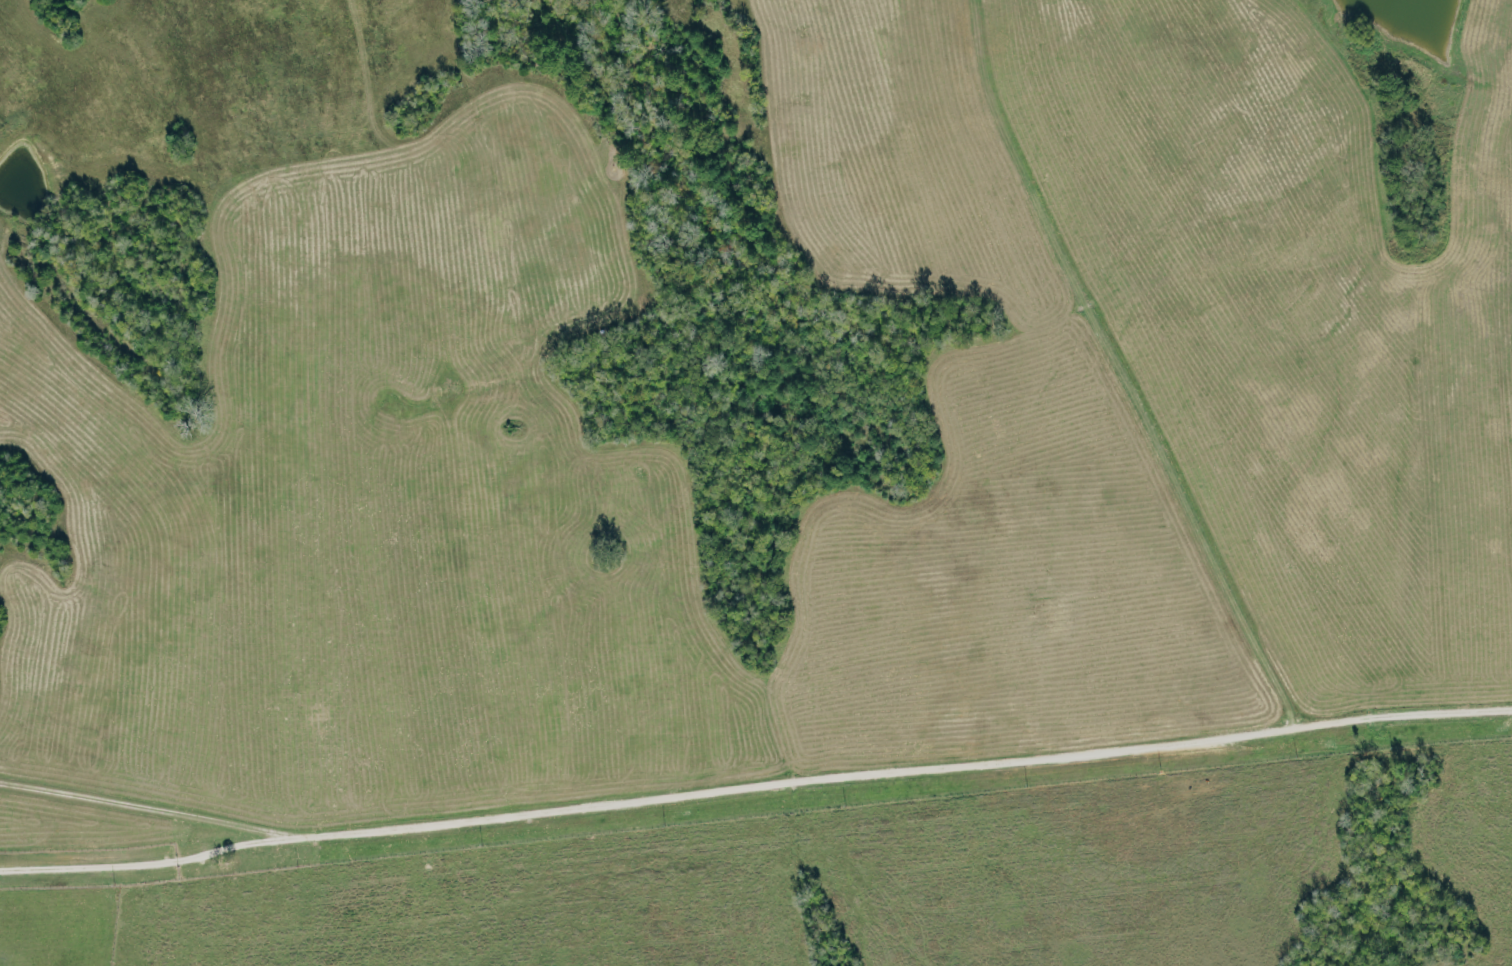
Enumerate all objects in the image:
road: (756, 787)

